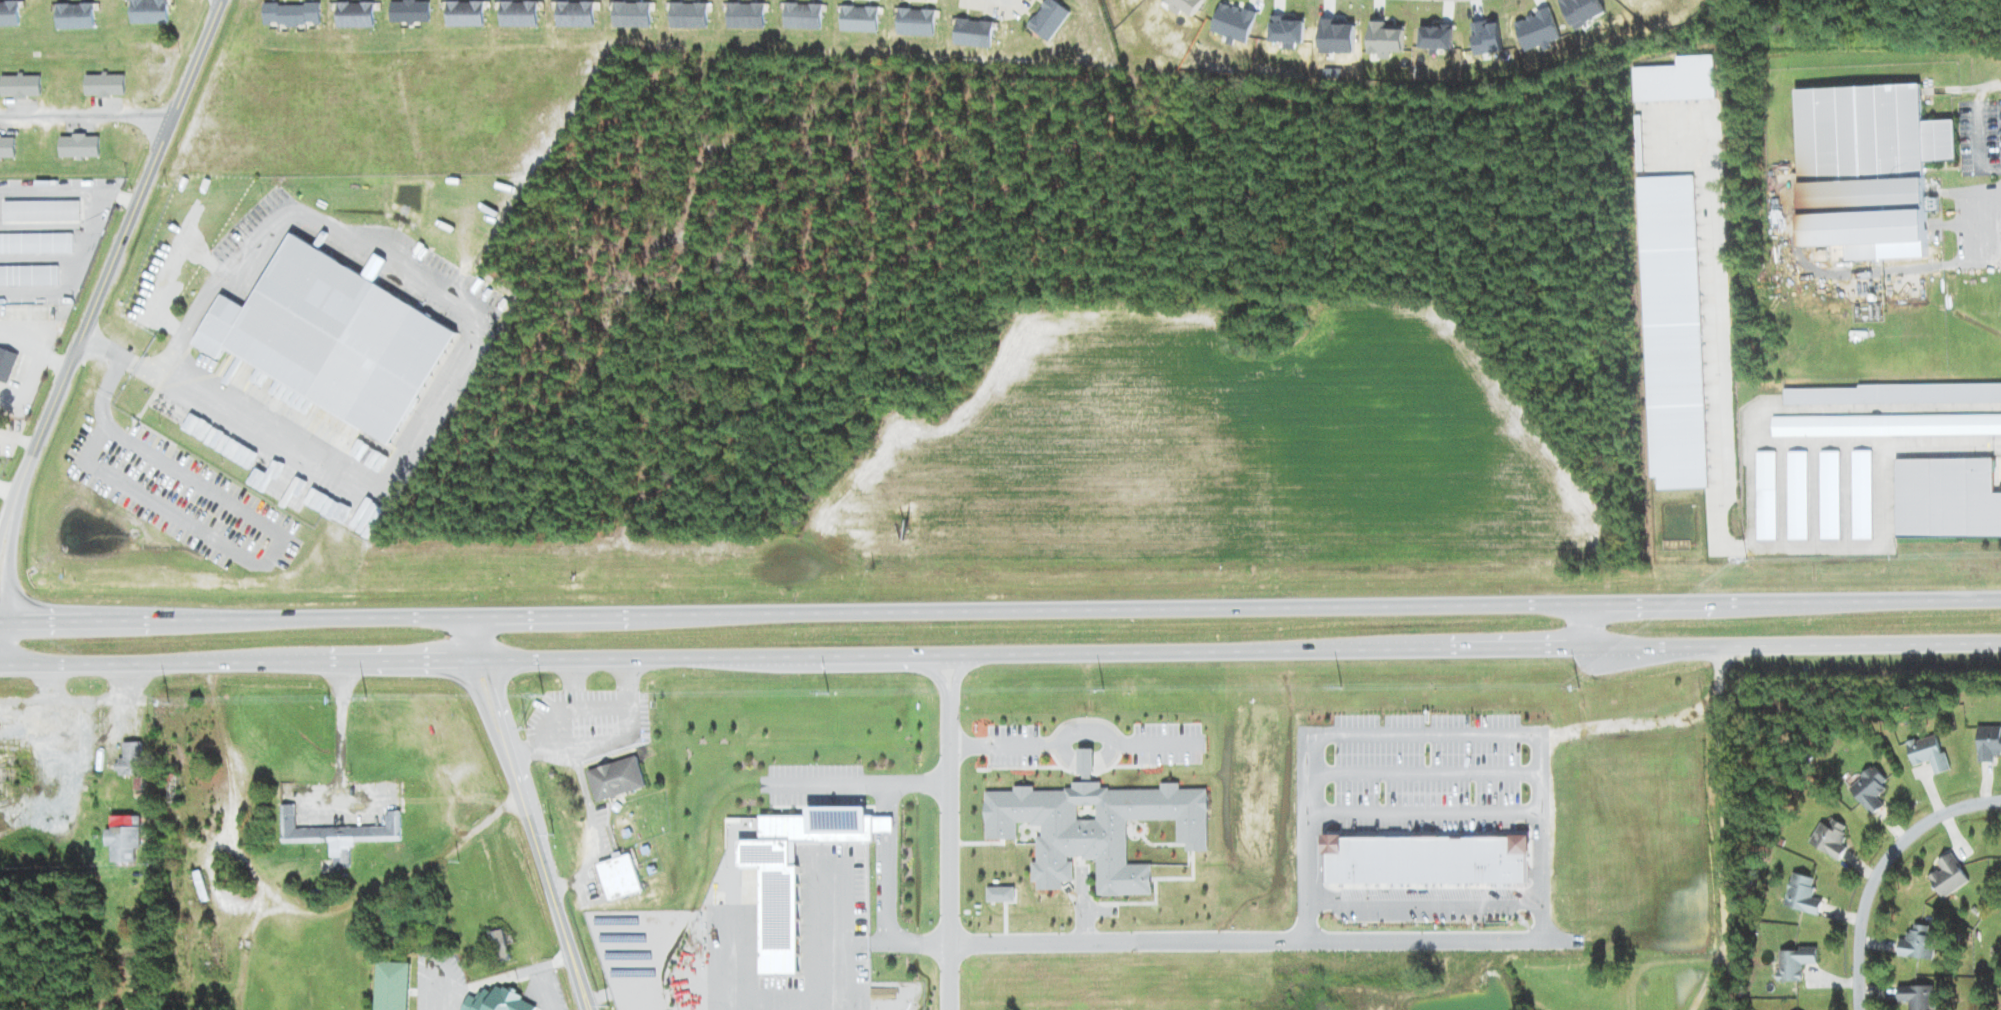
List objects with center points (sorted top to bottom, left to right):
building: (633, 12)
building: (860, 16)
building: (1050, 17)
building: (917, 20)
building: (975, 31)
road: (85, 115)
building: (1874, 175)
road: (52, 194)
road: (121, 196)
road: (115, 256)
road: (72, 274)
building: (7, 363)
road: (8, 490)
building: (1766, 494)
building: (1797, 494)
building: (1830, 494)
building: (1863, 494)
building: (1946, 497)
road: (5, 526)
road: (7, 588)
road: (1000, 612)
road: (1587, 624)
road: (1000, 652)
road: (938, 675)
road: (956, 677)
road: (495, 682)
road: (476, 685)
road: (1074, 732)
building: (1989, 742)
road: (338, 749)
building: (1929, 753)
building: (132, 758)
building: (617, 777)
building: (1870, 787)
building: (1883, 814)
building: (1095, 826)
road: (1726, 827)
building: (342, 834)
building: (125, 837)
building: (1831, 837)
building: (1426, 859)
road: (950, 860)
road: (1878, 865)
building: (1949, 875)
building: (621, 876)
road: (549, 879)
building: (1001, 893)
building: (1802, 893)
road: (1082, 905)
road: (294, 911)
road: (1543, 917)
road: (833, 939)
building: (500, 944)
building: (1917, 944)
building: (1796, 962)
road: (1710, 972)
building: (392, 985)
building: (1919, 996)

